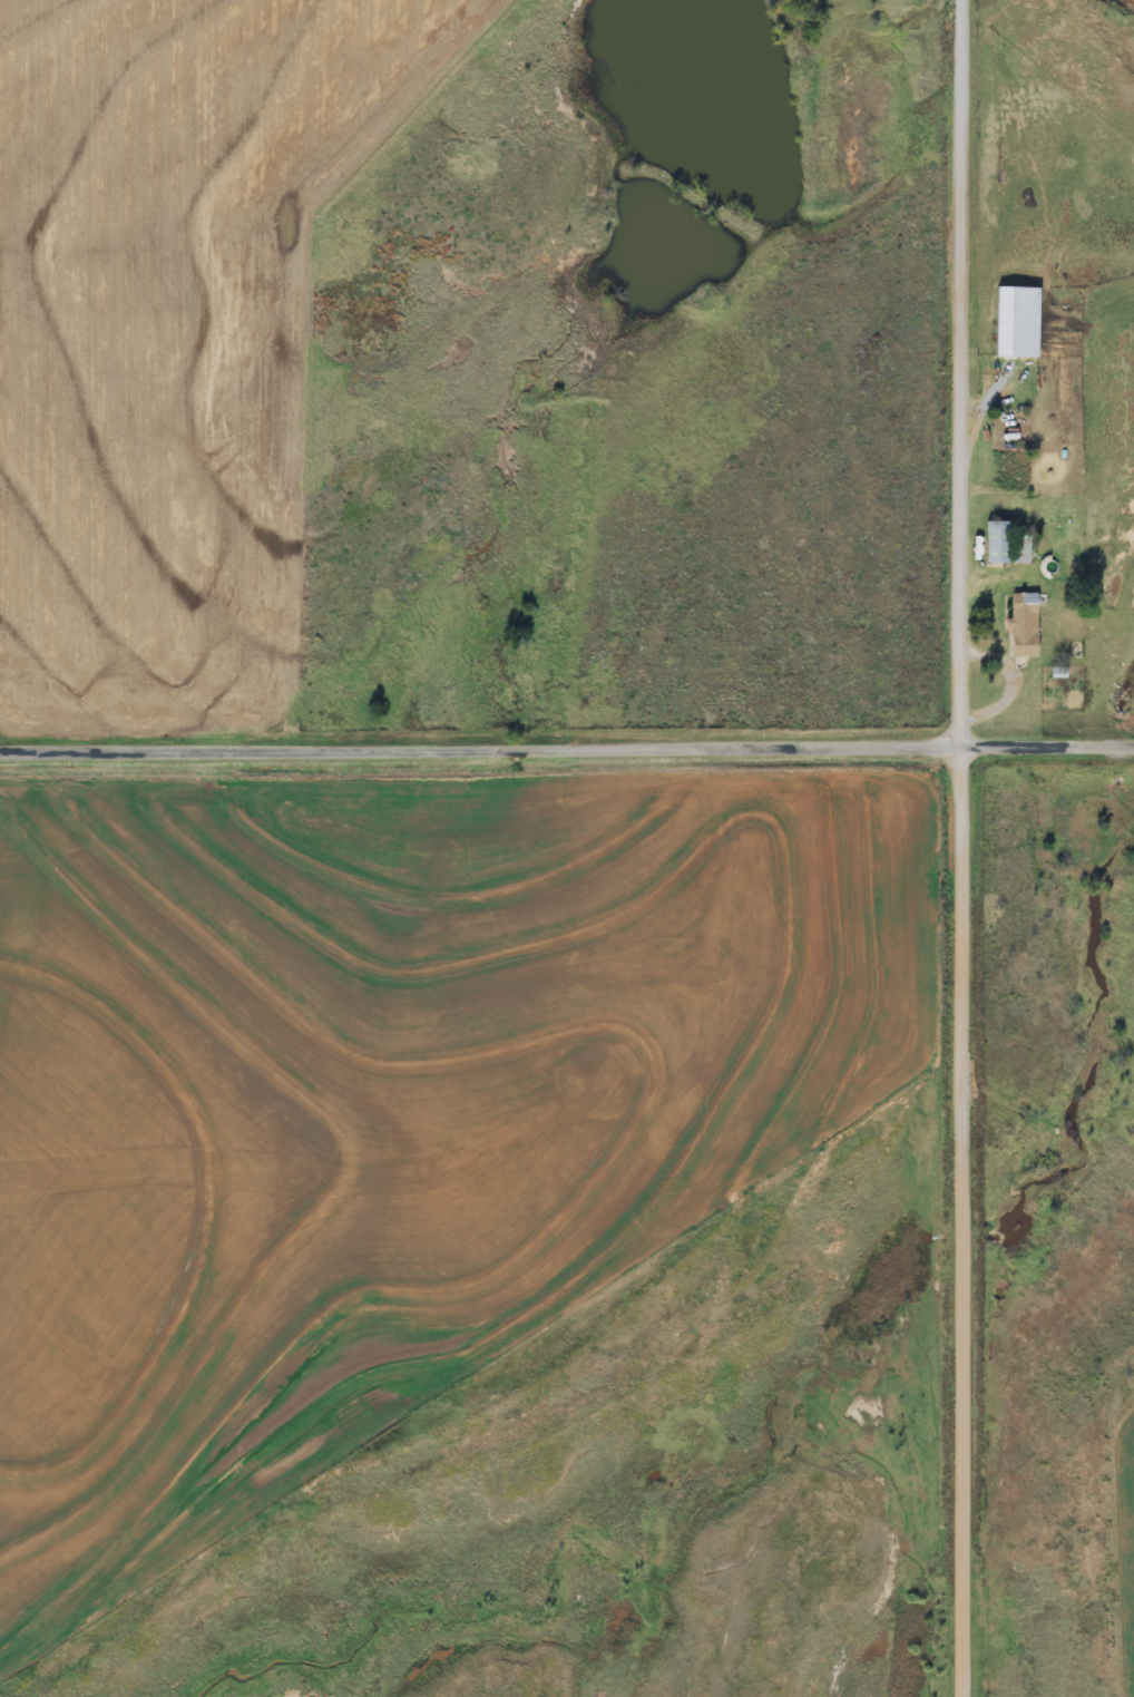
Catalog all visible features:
building: (1016, 323)
building: (1005, 545)
building: (1024, 625)
road: (1046, 739)
road: (479, 743)
road: (959, 848)

